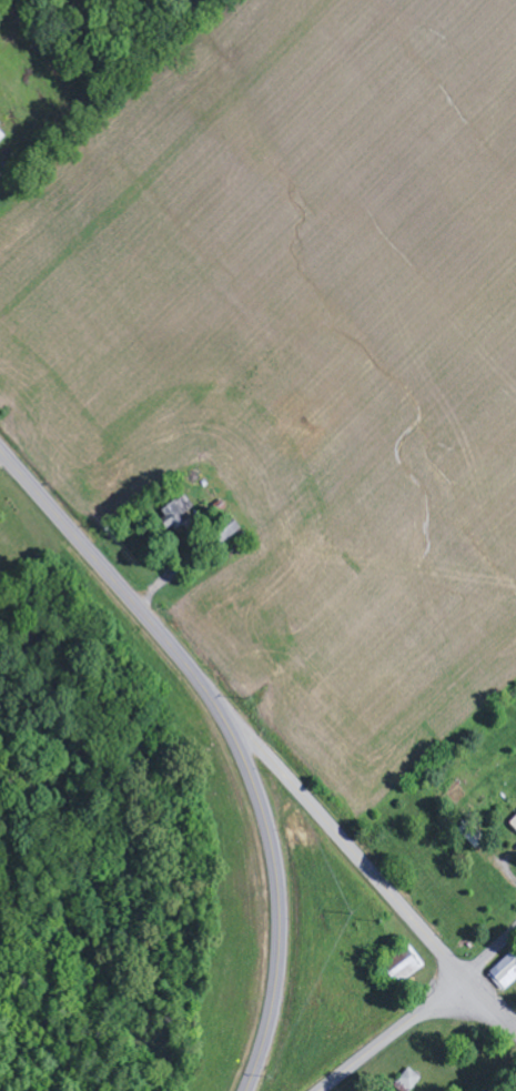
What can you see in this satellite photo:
building: (2, 137)
building: (185, 517)
road: (100, 564)
building: (514, 822)
road: (356, 856)
road: (276, 880)
building: (506, 973)
road: (421, 1012)
building: (412, 1080)

